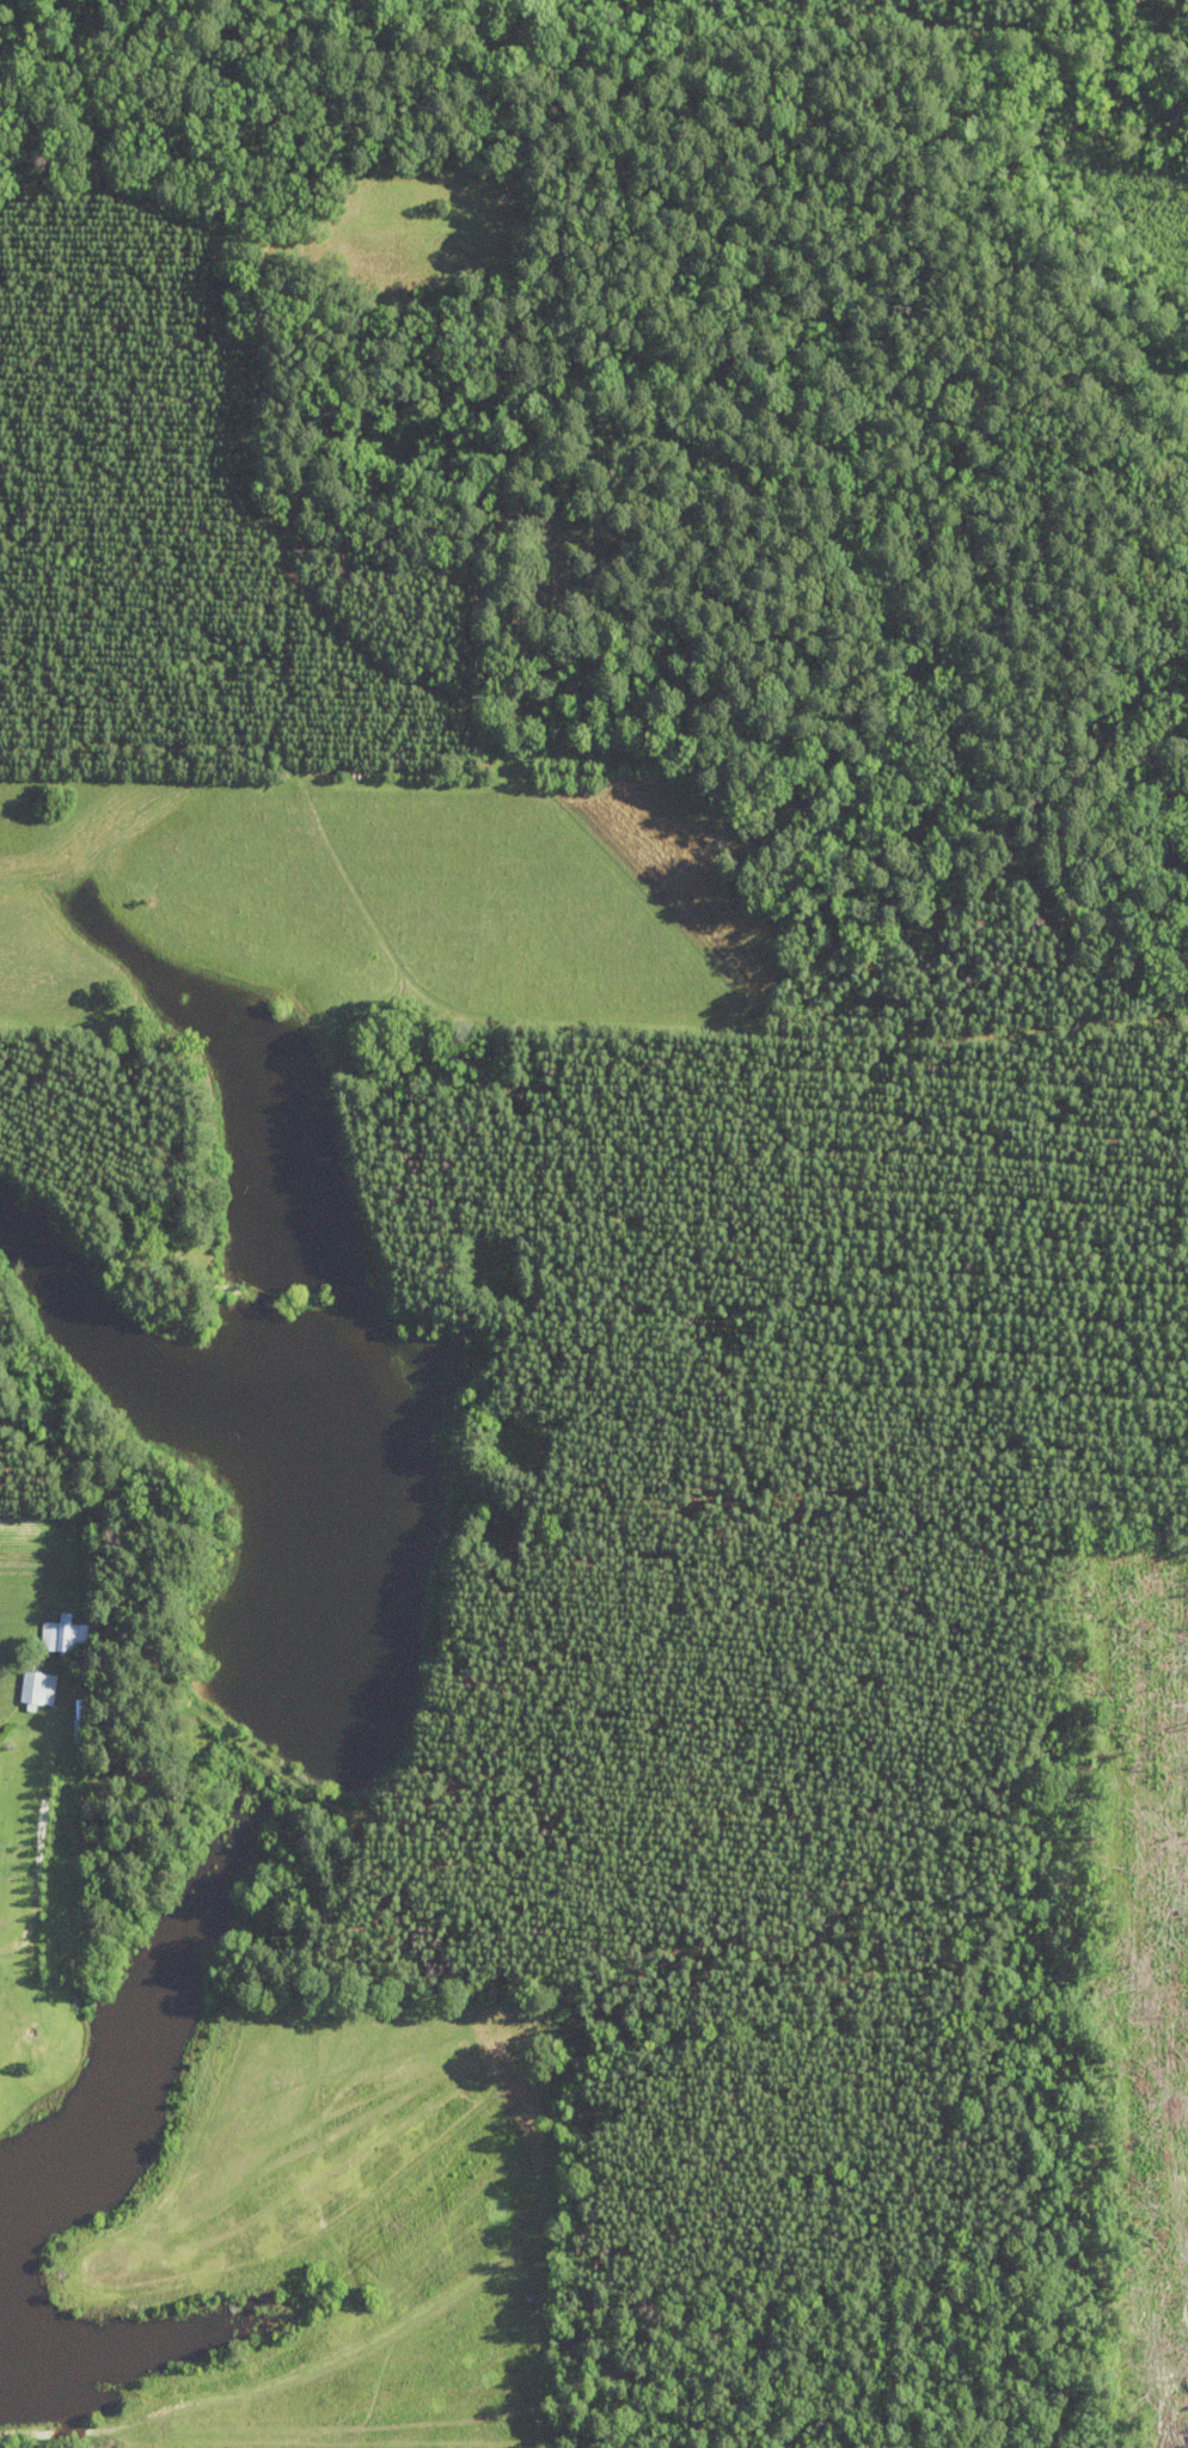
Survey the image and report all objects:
building: (62, 1634)
building: (41, 1688)
building: (85, 1730)
road: (51, 2032)

